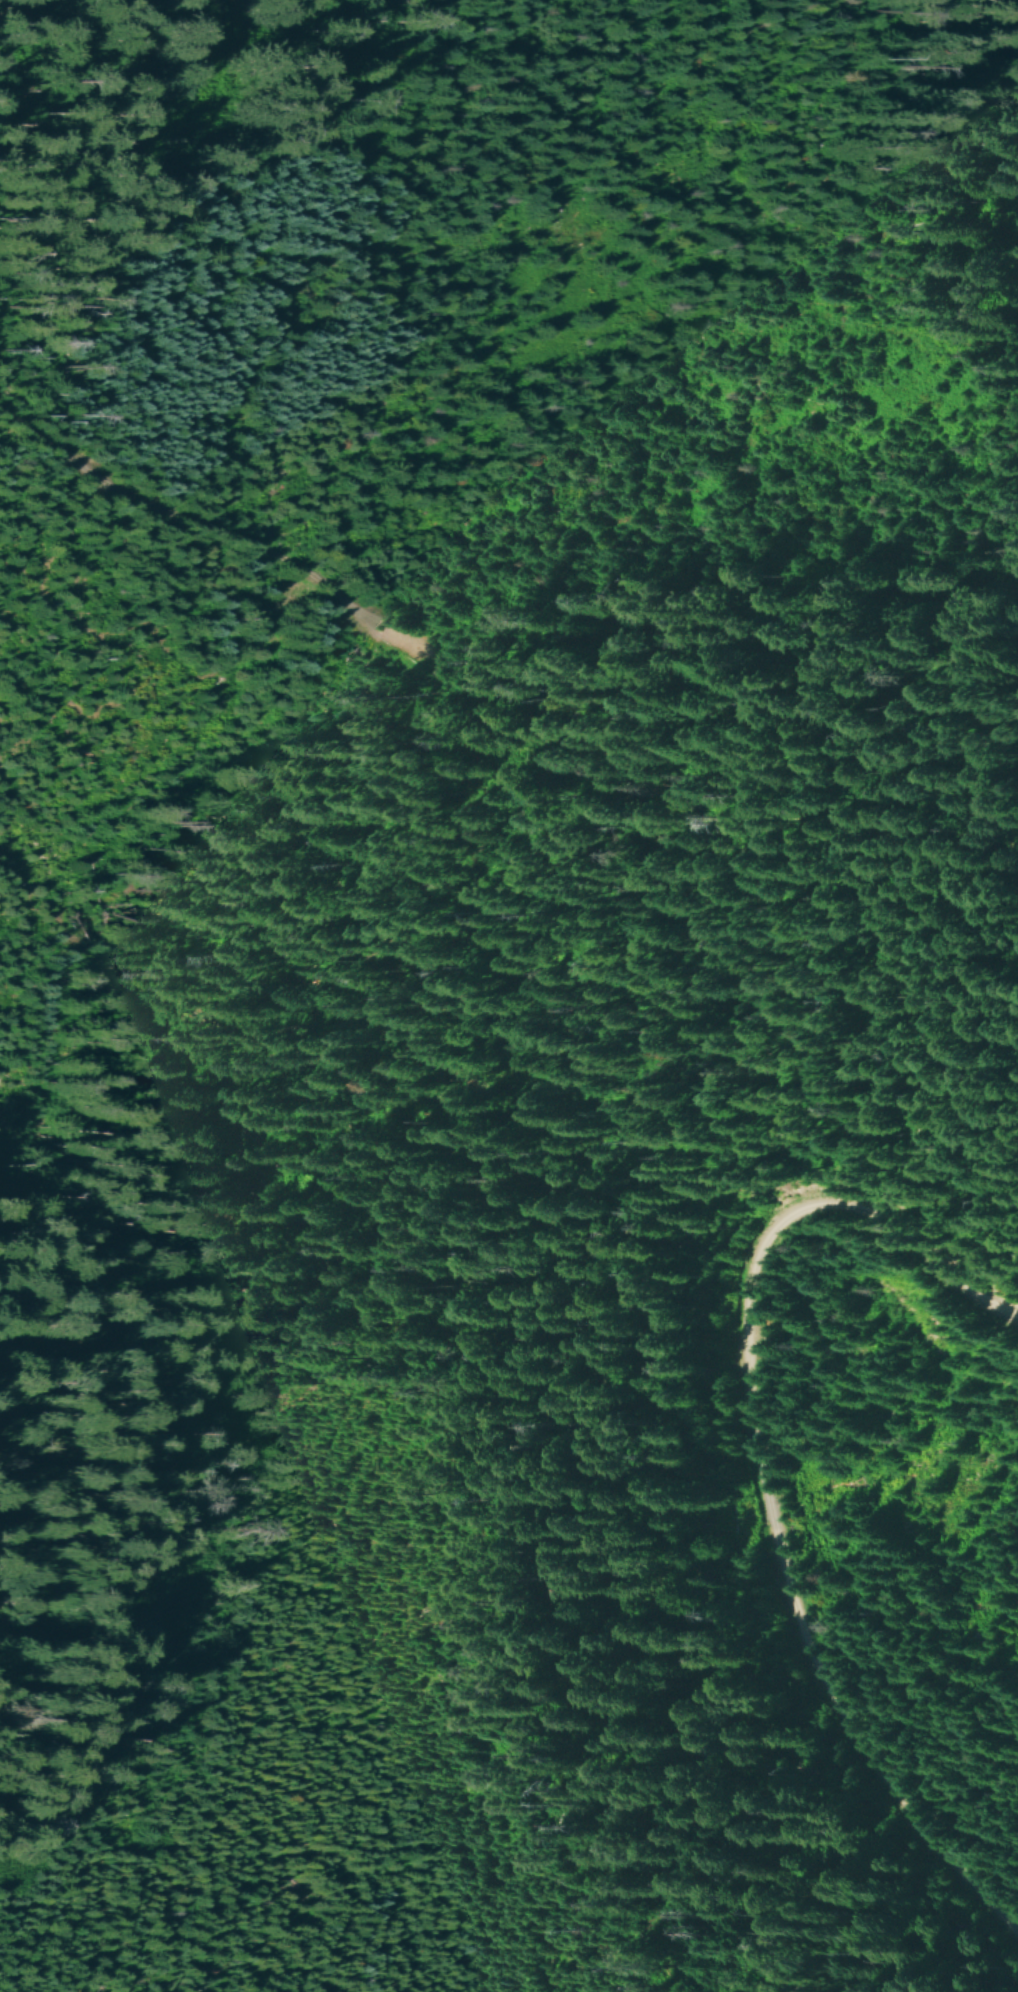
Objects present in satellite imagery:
road: (216, 172)
road: (189, 522)
road: (766, 1473)

